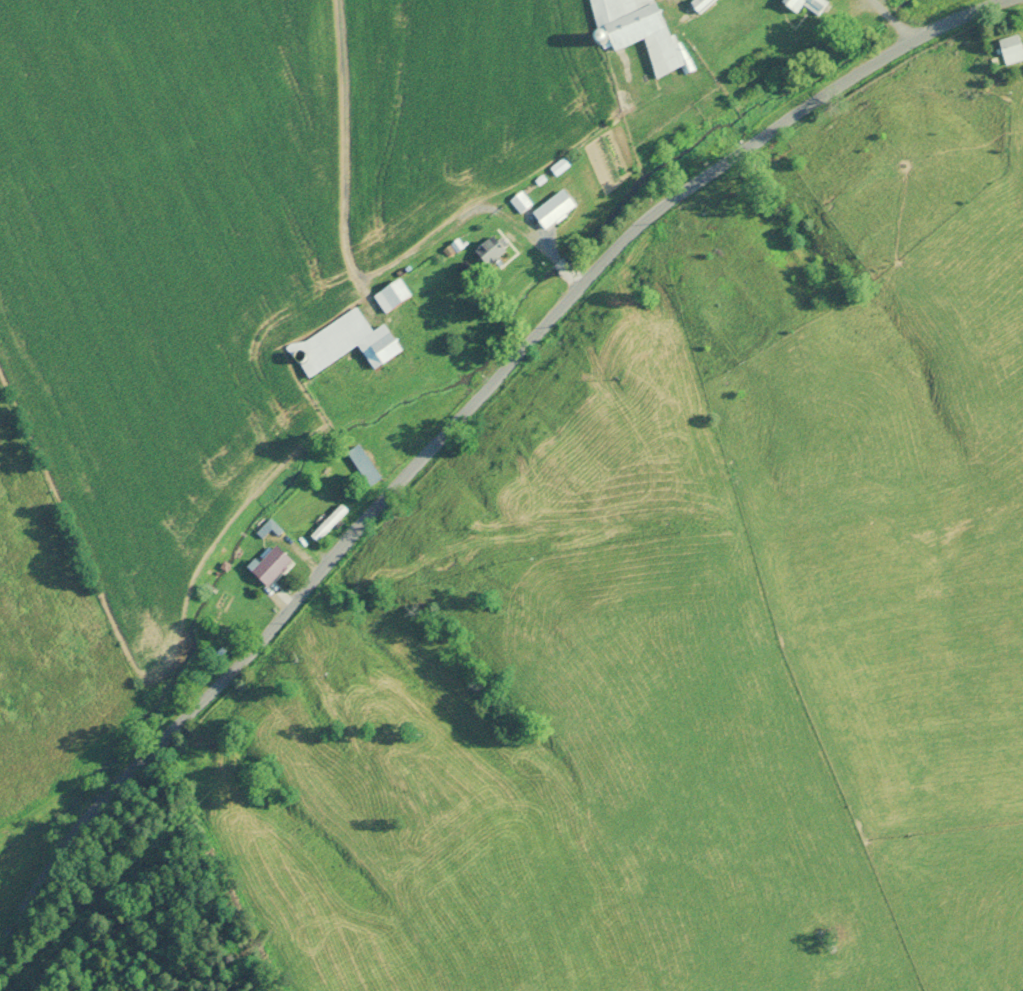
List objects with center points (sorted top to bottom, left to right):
building: (701, 2)
building: (804, 5)
building: (637, 32)
building: (1010, 50)
building: (551, 210)
building: (398, 297)
building: (351, 344)
road: (455, 423)
building: (369, 465)
building: (333, 522)
building: (277, 565)

